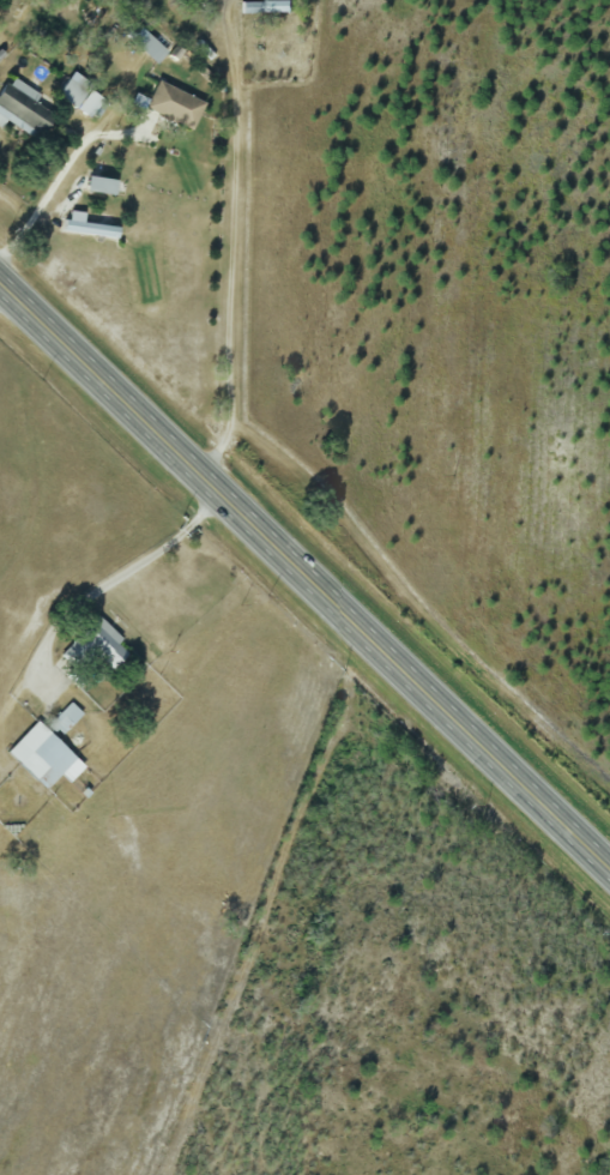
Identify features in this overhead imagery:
building: (267, 6)
building: (147, 47)
building: (77, 98)
building: (173, 106)
building: (23, 113)
road: (60, 176)
building: (98, 187)
road: (232, 243)
road: (115, 577)
road: (304, 579)
road: (519, 632)
building: (93, 646)
building: (66, 718)
building: (40, 757)
road: (322, 888)

